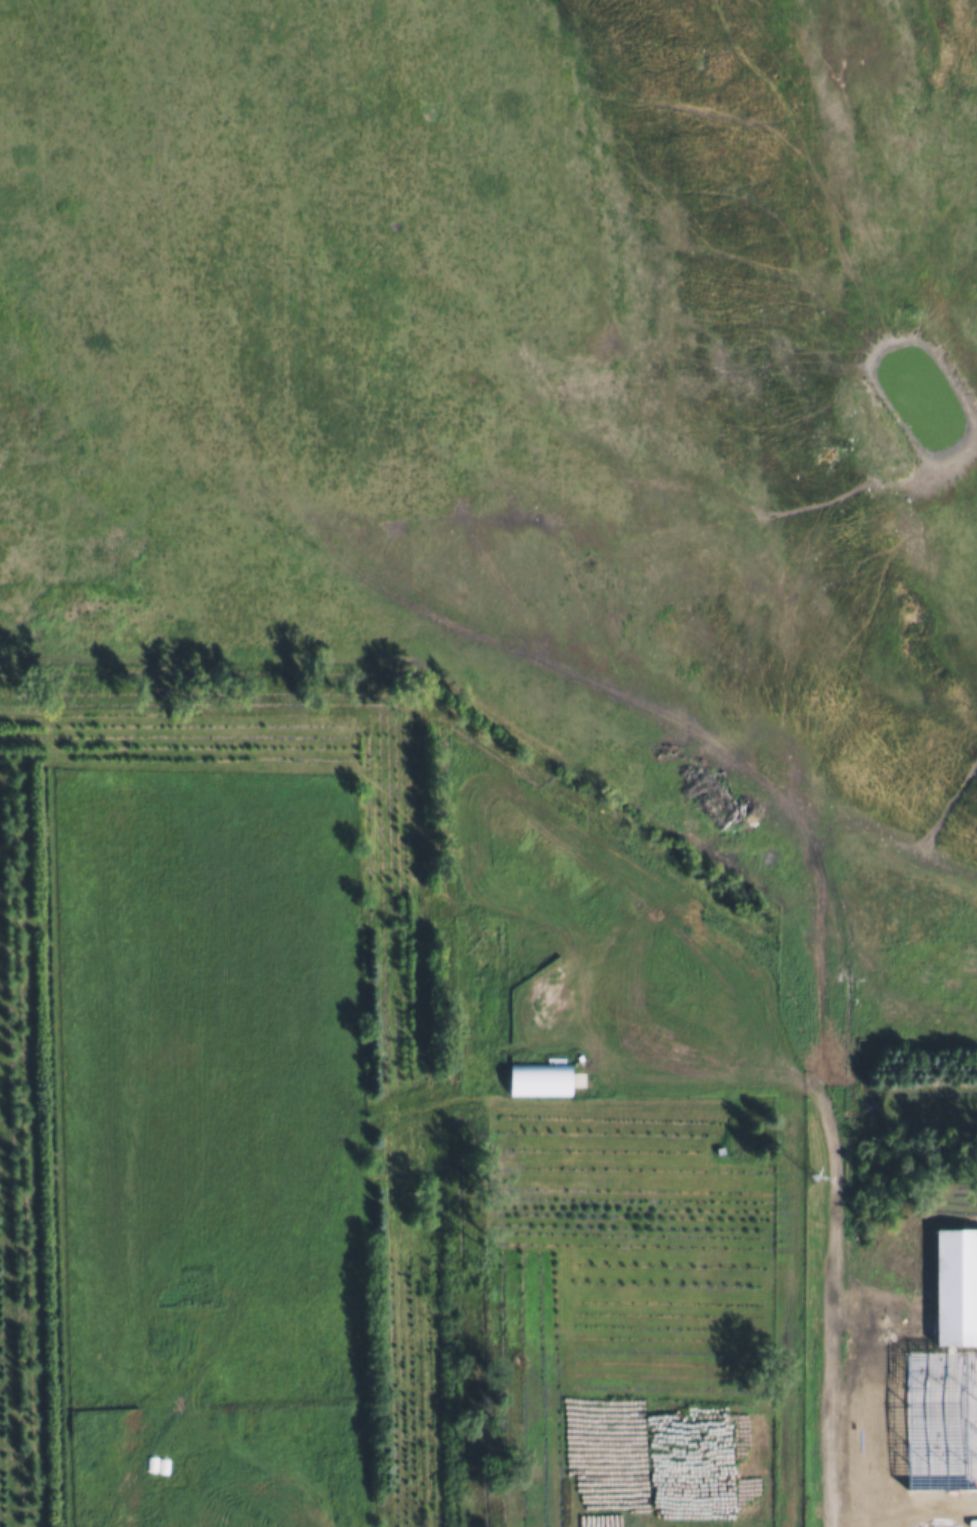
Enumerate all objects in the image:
building: (544, 1080)
building: (957, 1287)
building: (970, 1424)

